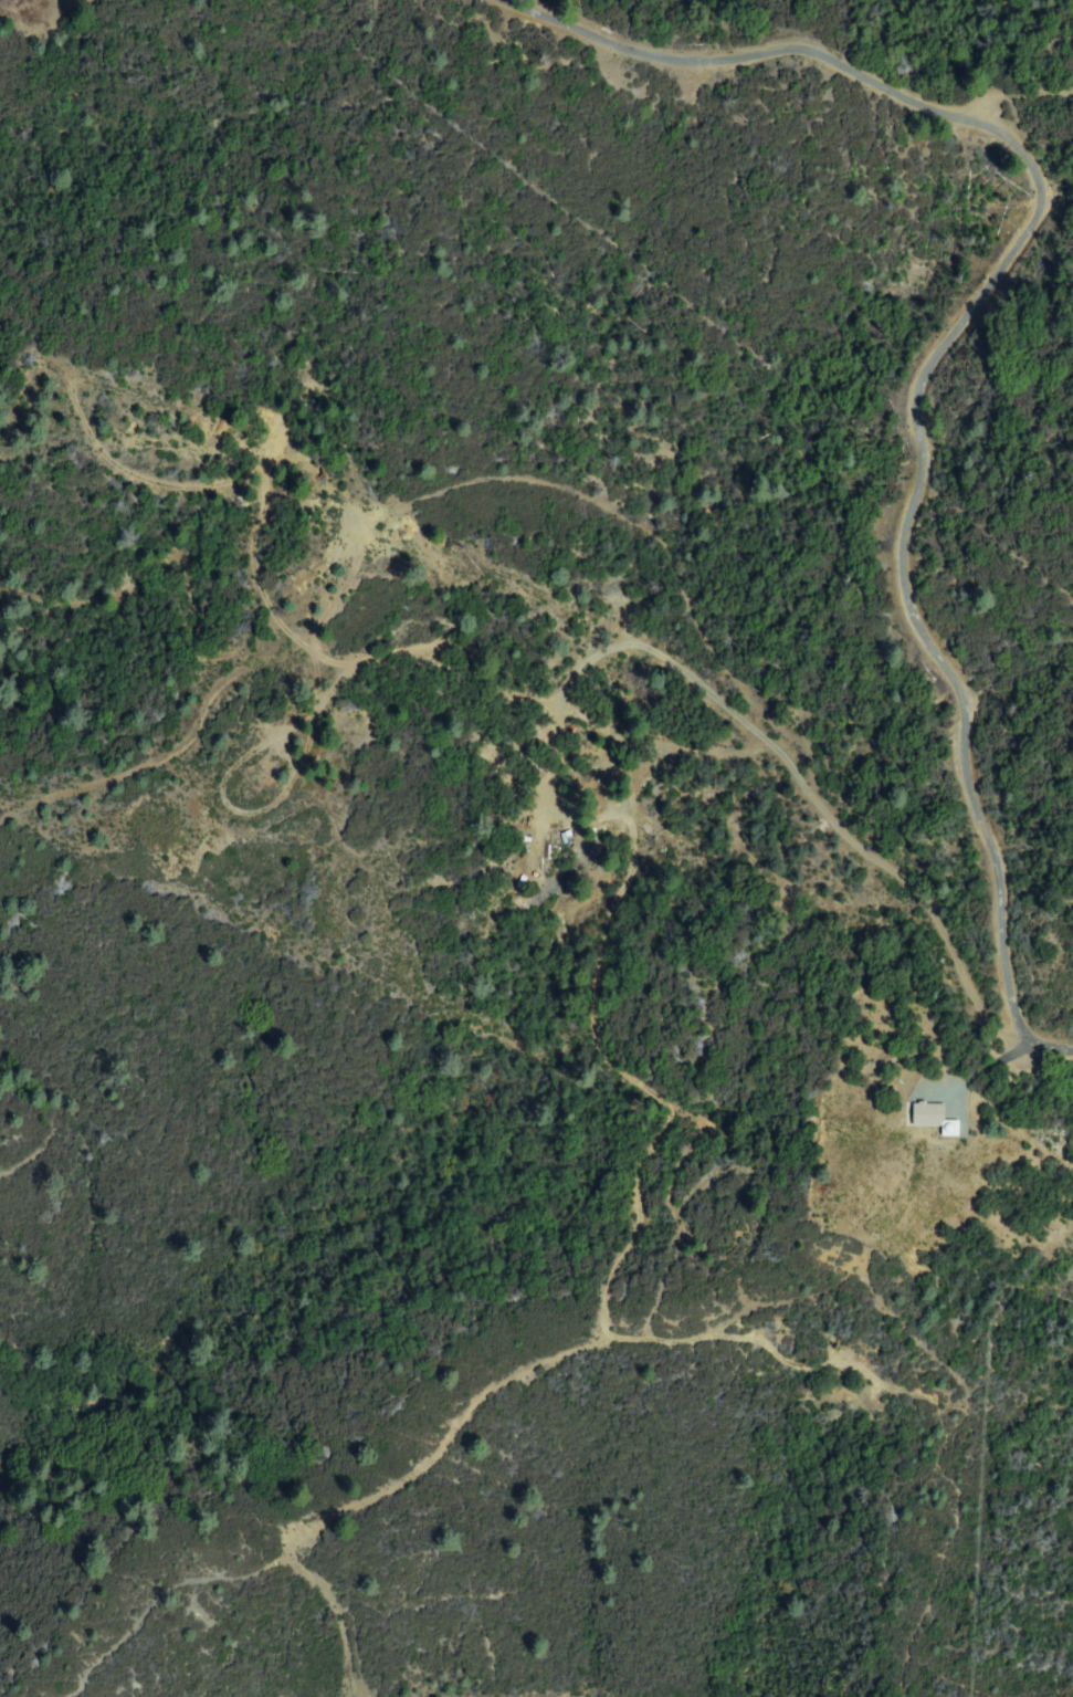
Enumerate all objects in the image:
road: (971, 316)
road: (572, 484)
building: (574, 883)
road: (1042, 1035)
building: (927, 1115)
building: (950, 1129)

